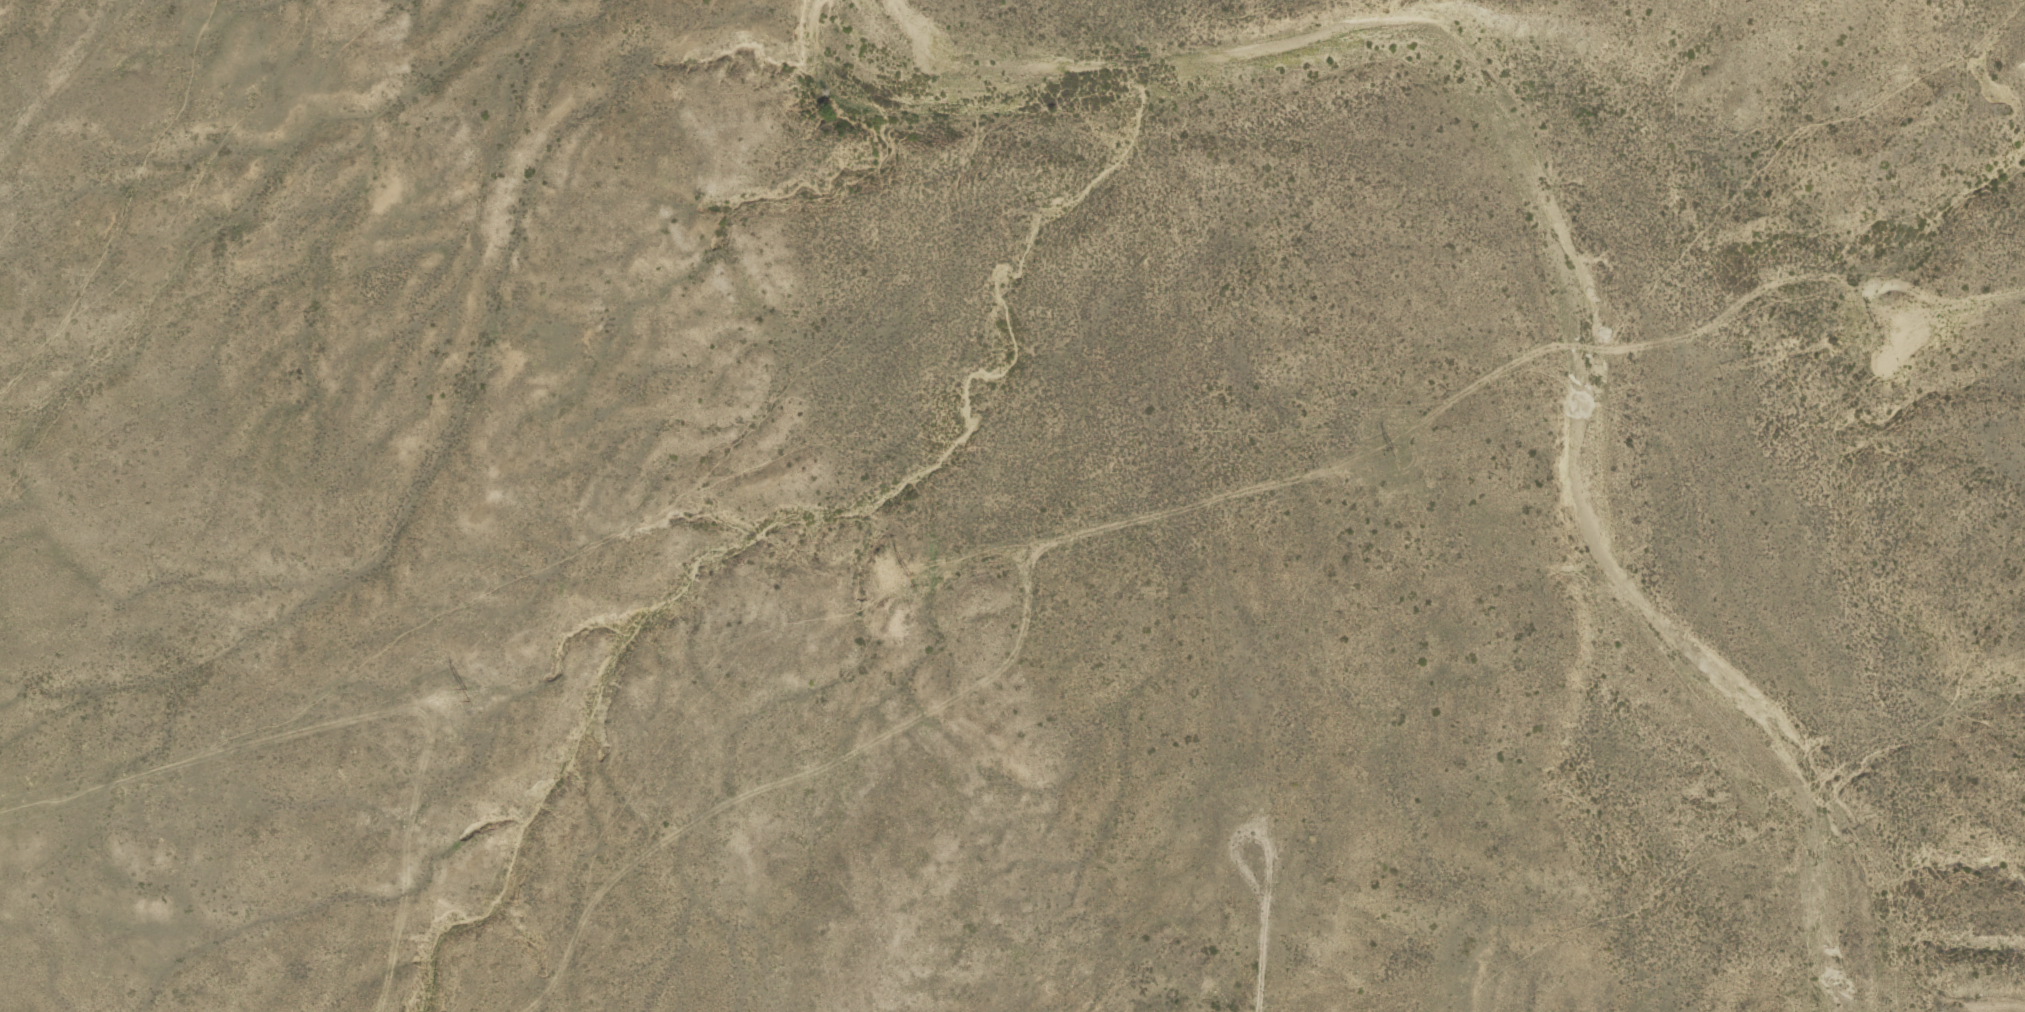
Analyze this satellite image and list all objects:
power tower: (1880, 333)
power tower: (1399, 455)
power tower: (914, 581)
power tower: (471, 693)

